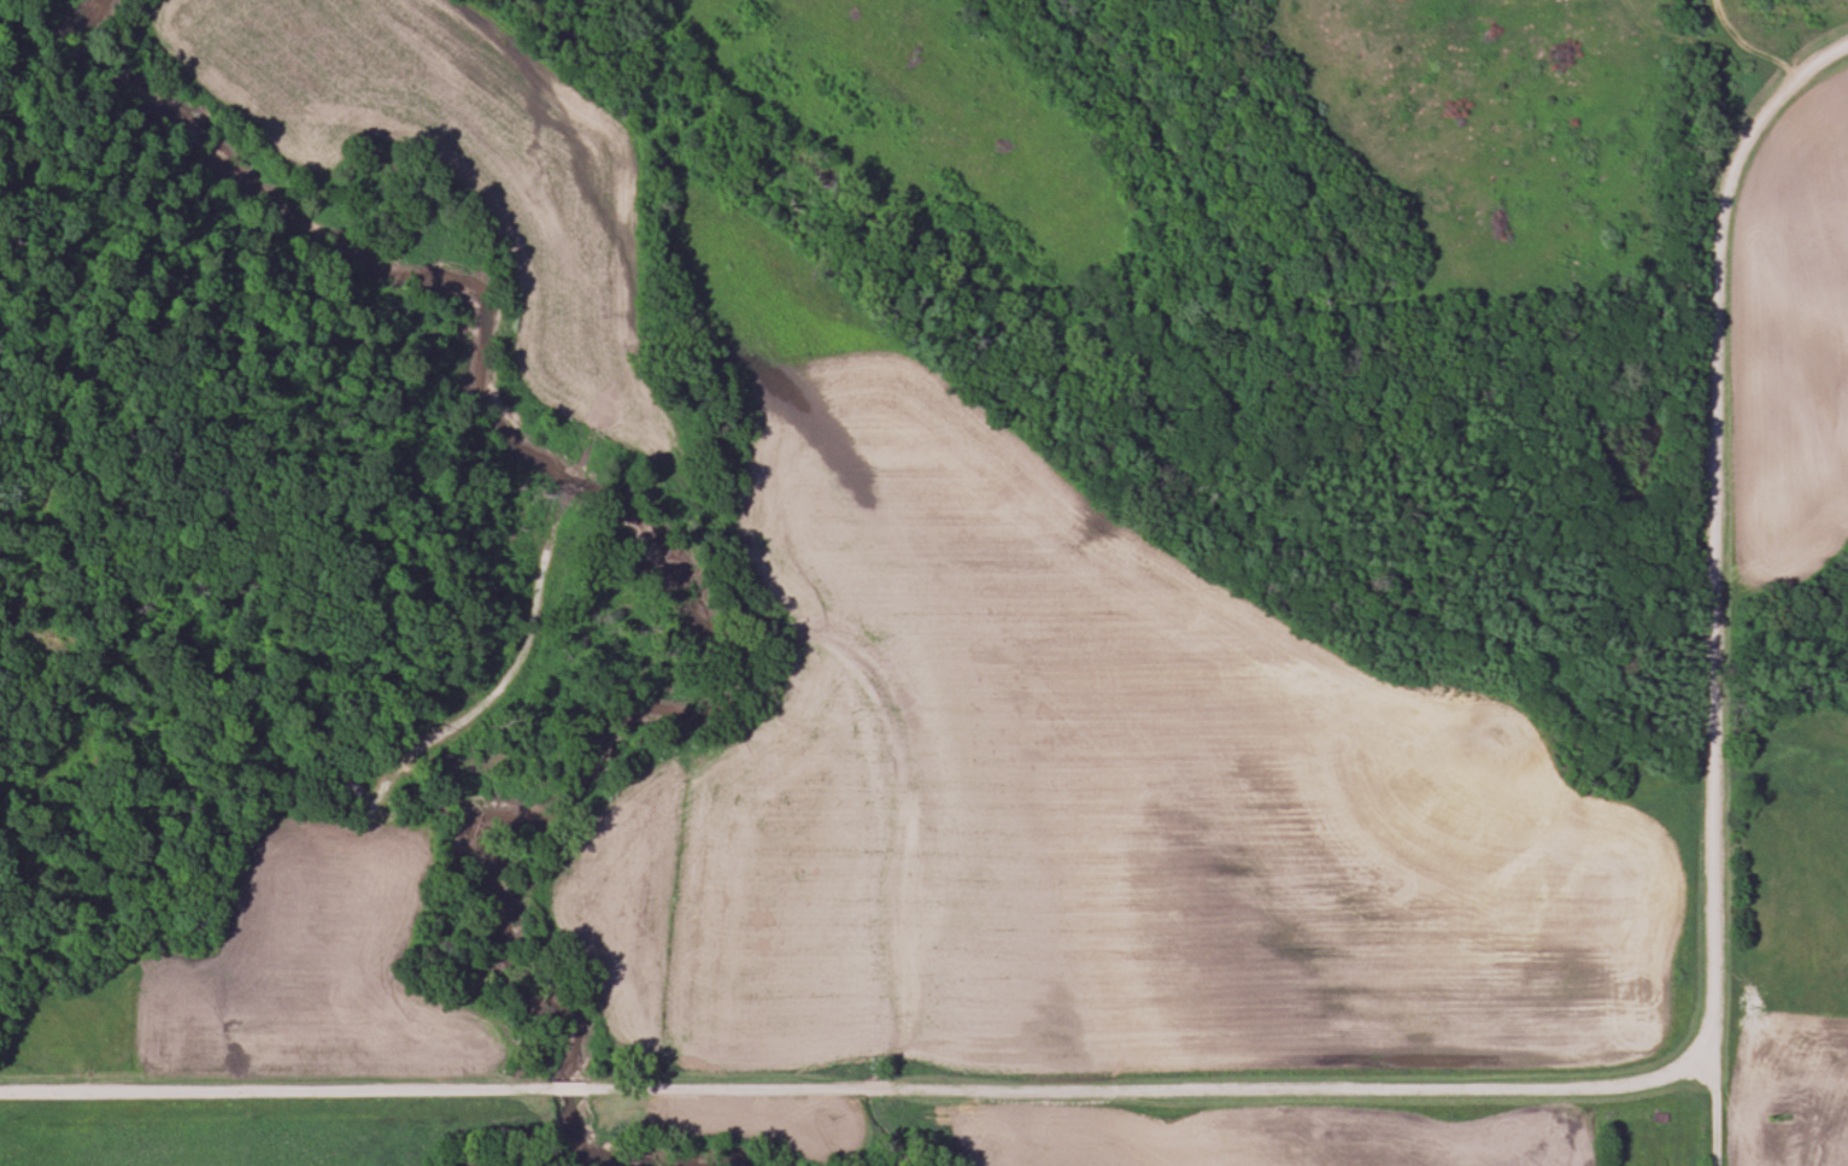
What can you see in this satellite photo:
road: (1747, 47)
road: (1823, 58)
road: (1712, 594)
road: (1713, 1057)
road: (857, 1091)
road: (1714, 1130)

